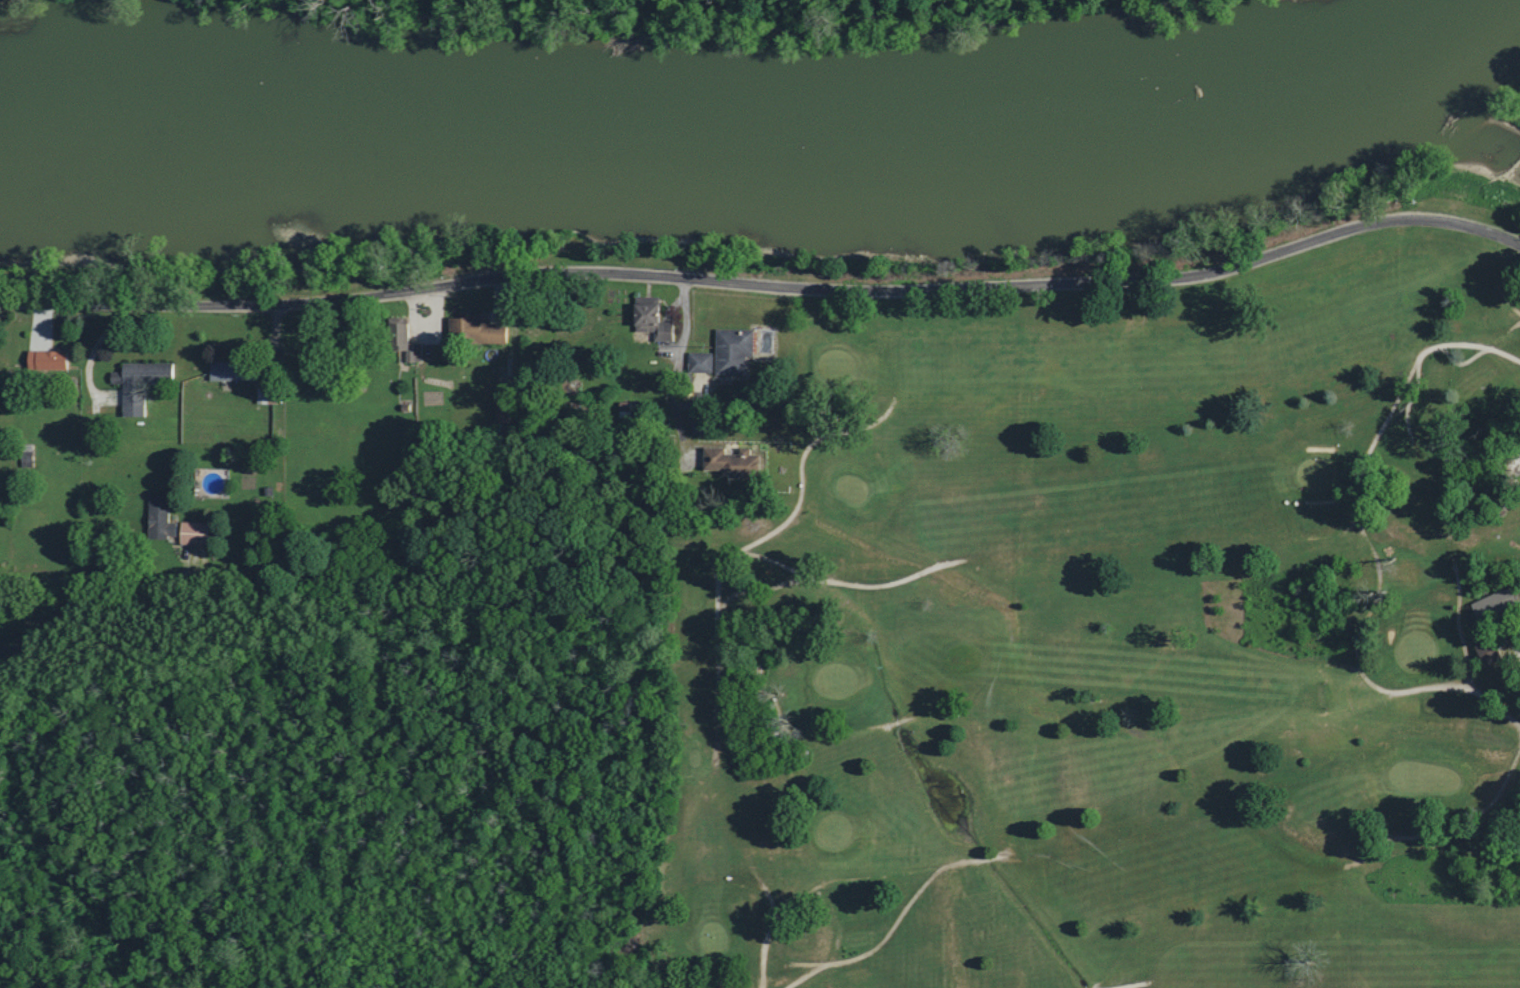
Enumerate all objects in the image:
river: (771, 143)
road: (765, 284)
building: (648, 317)
building: (479, 330)
building: (730, 349)
building: (51, 361)
building: (697, 361)
road: (681, 369)
building: (142, 384)
road: (1403, 389)
building: (269, 396)
building: (505, 411)
building: (721, 461)
building: (163, 518)
building: (198, 533)
road: (100, 565)
building: (1488, 602)
park: (1097, 625)
building: (1483, 653)

